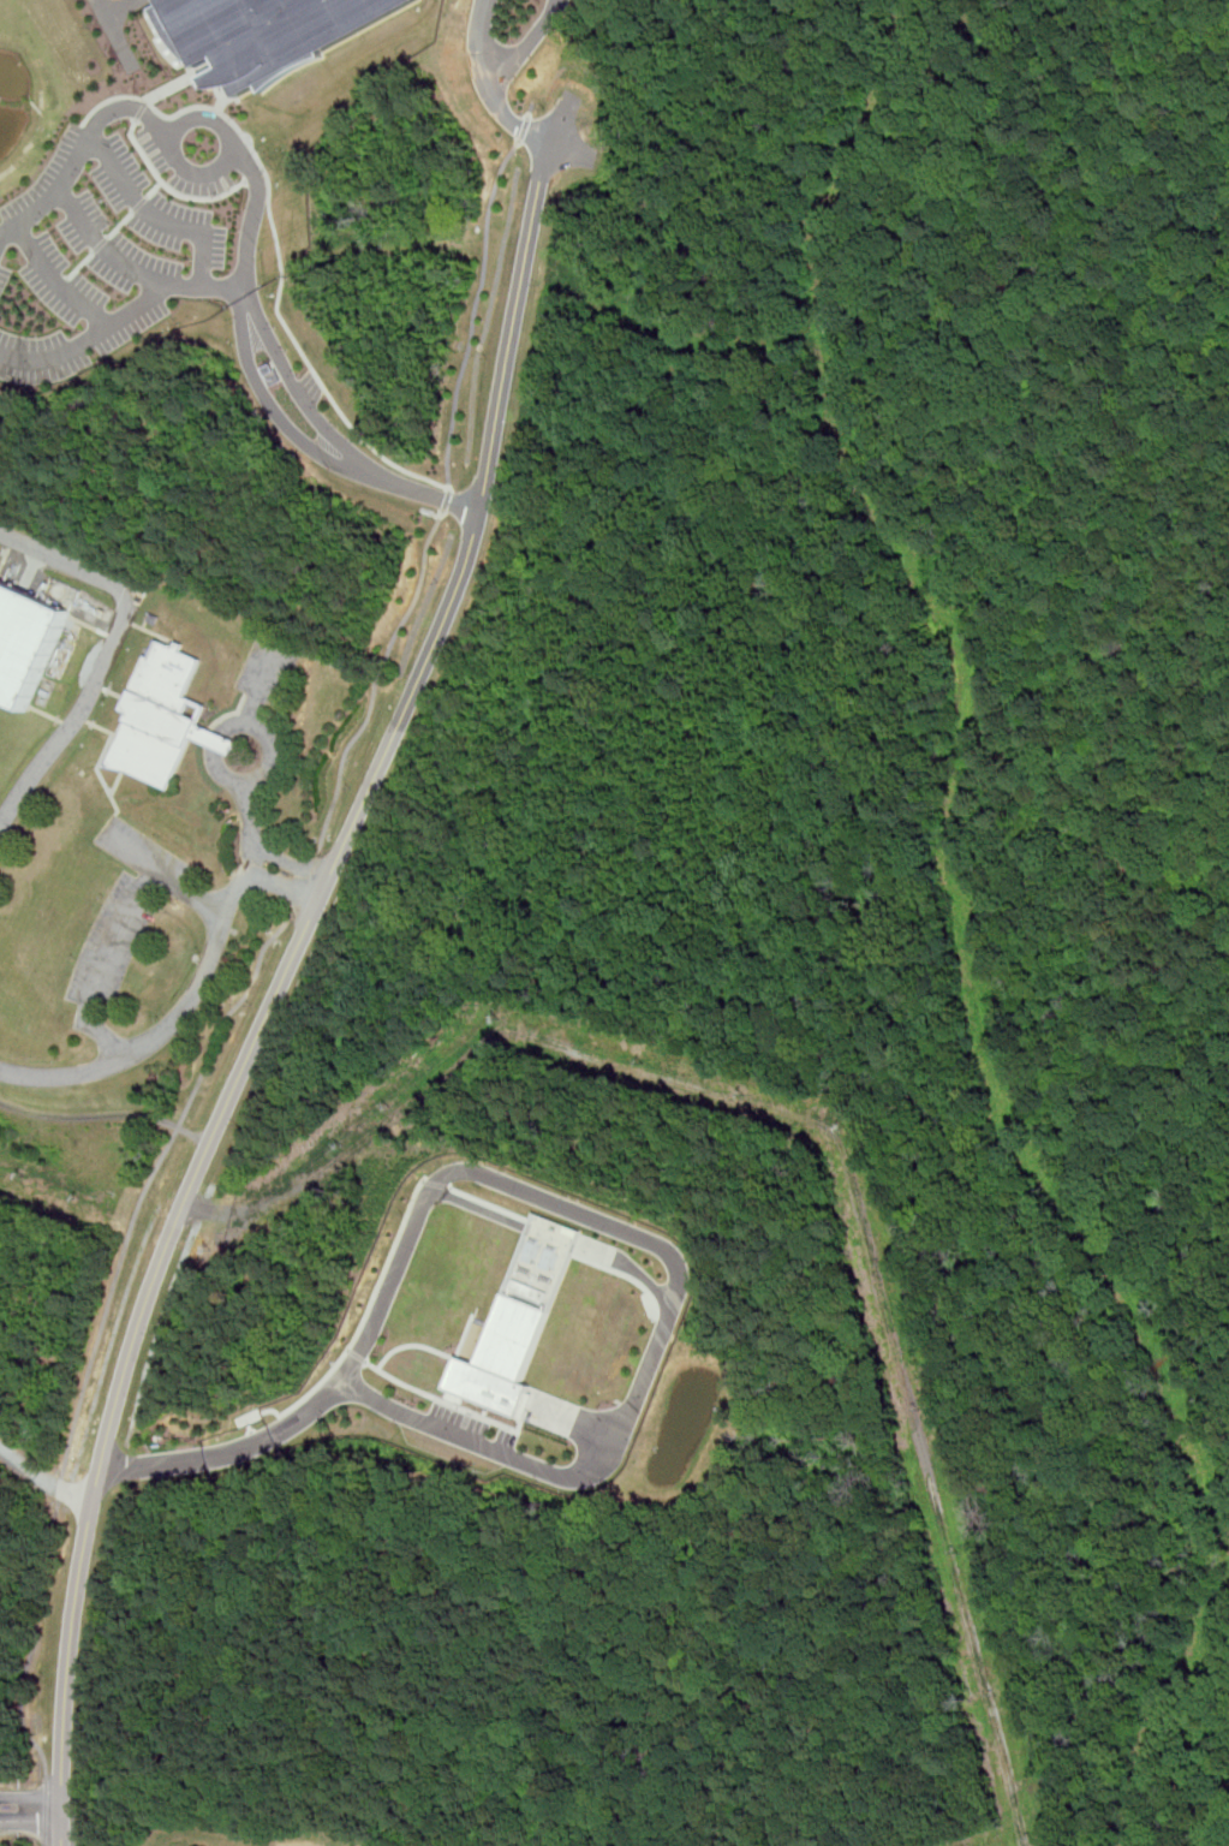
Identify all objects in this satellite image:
road: (127, 10)
building: (266, 31)
road: (114, 34)
road: (525, 46)
road: (497, 103)
road: (109, 113)
road: (523, 127)
road: (154, 216)
road: (103, 249)
road: (54, 282)
road: (476, 312)
road: (119, 318)
road: (268, 332)
road: (446, 501)
building: (29, 639)
road: (106, 651)
road: (262, 683)
building: (163, 717)
road: (241, 722)
building: (219, 739)
road: (291, 862)
road: (162, 873)
road: (284, 886)
road: (102, 963)
road: (288, 969)
road: (192, 993)
road: (107, 1119)
road: (567, 1207)
building: (508, 1359)
road: (42, 1753)
road: (30, 1797)
road: (46, 1808)
road: (30, 1821)
road: (24, 1832)
road: (46, 1844)

